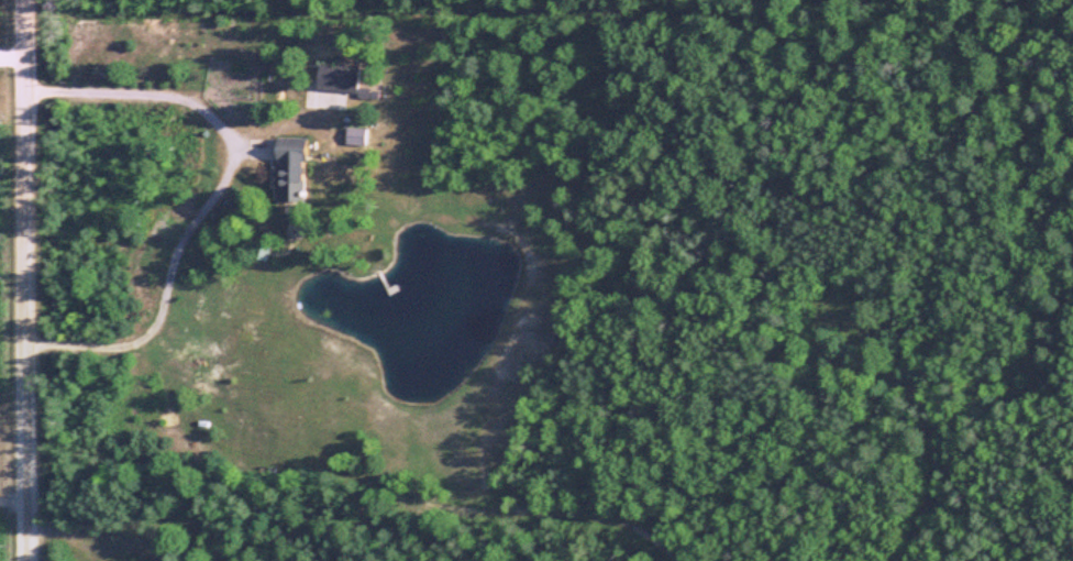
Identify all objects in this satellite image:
building: (336, 77)
building: (287, 167)
road: (218, 190)
road: (27, 279)
road: (14, 495)

